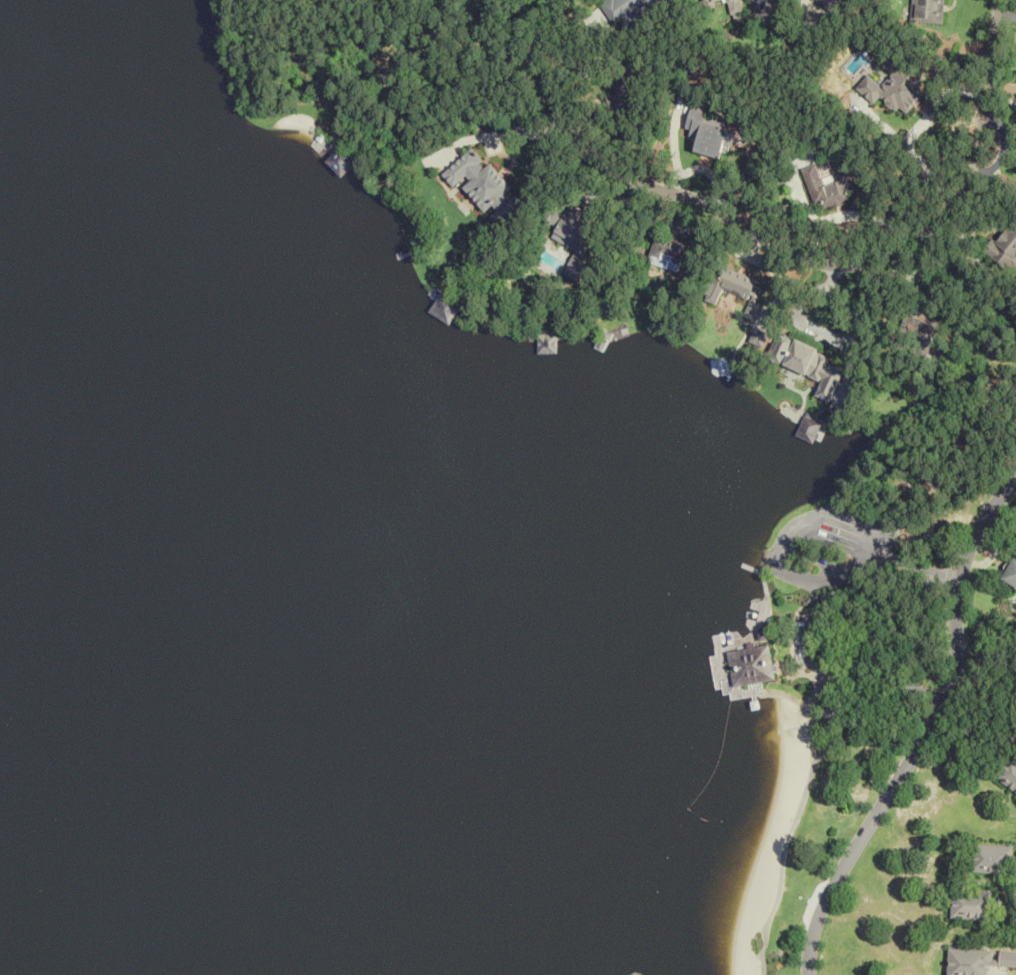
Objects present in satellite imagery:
building: (717, 0)
building: (735, 6)
building: (928, 10)
building: (896, 88)
building: (619, 90)
building: (708, 133)
building: (322, 144)
building: (343, 162)
building: (829, 187)
building: (484, 188)
building: (568, 232)
building: (1005, 247)
road: (788, 252)
building: (666, 253)
building: (733, 290)
building: (918, 326)
building: (757, 338)
building: (546, 343)
building: (808, 364)
building: (808, 429)
building: (1011, 573)
building: (752, 664)
road: (924, 728)
building: (1008, 772)
building: (990, 859)
building: (1004, 901)
building: (967, 905)

